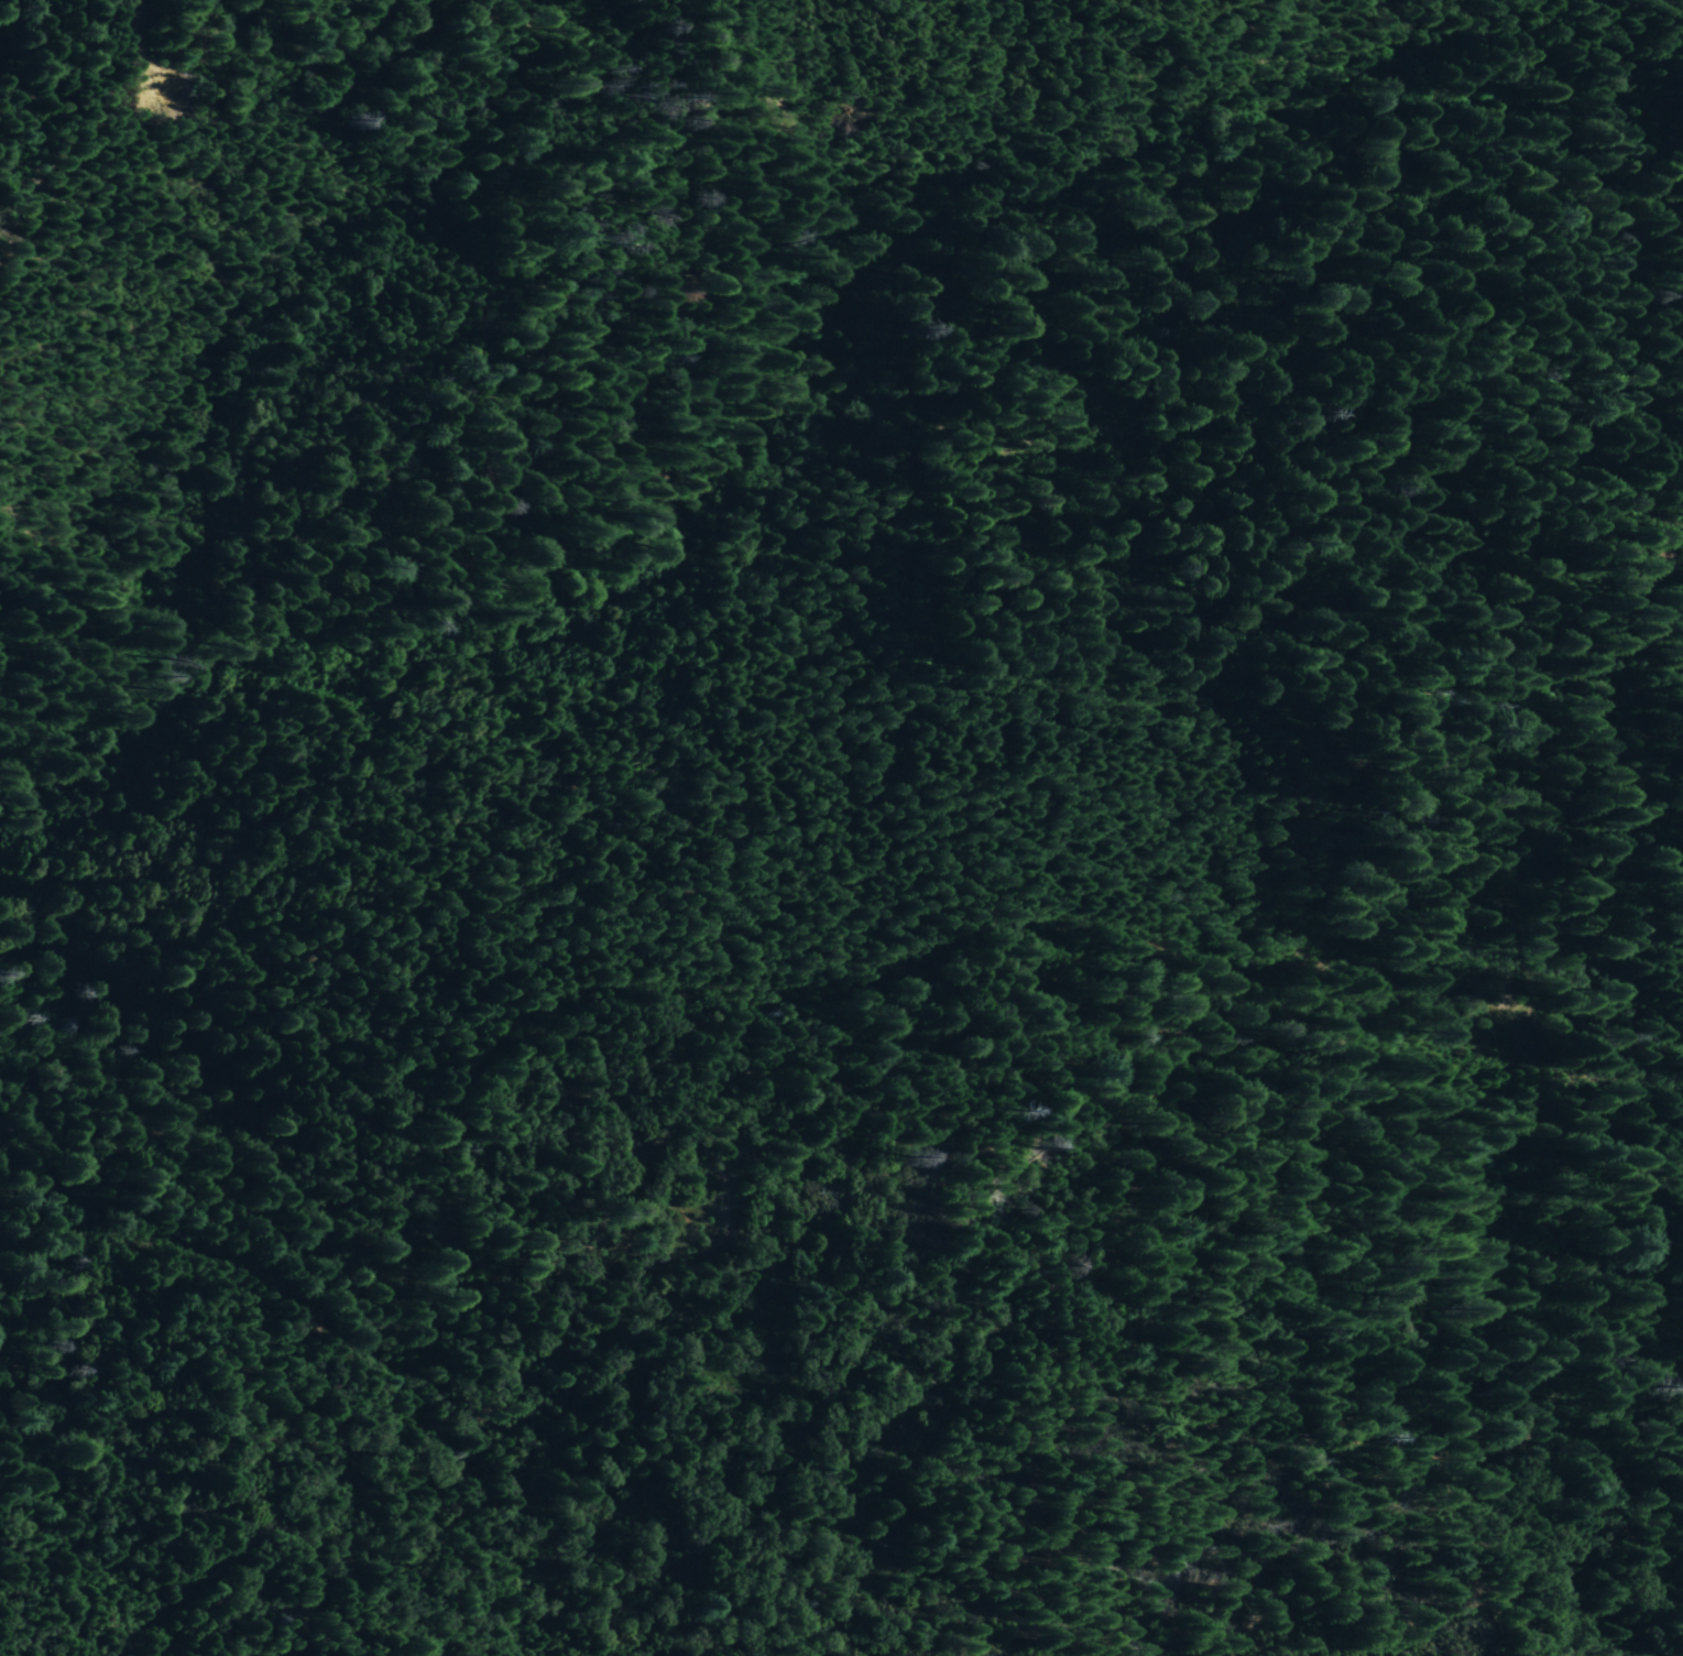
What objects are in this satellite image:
road: (156, 34)
park: (313, 520)
park: (403, 589)
road: (713, 979)

